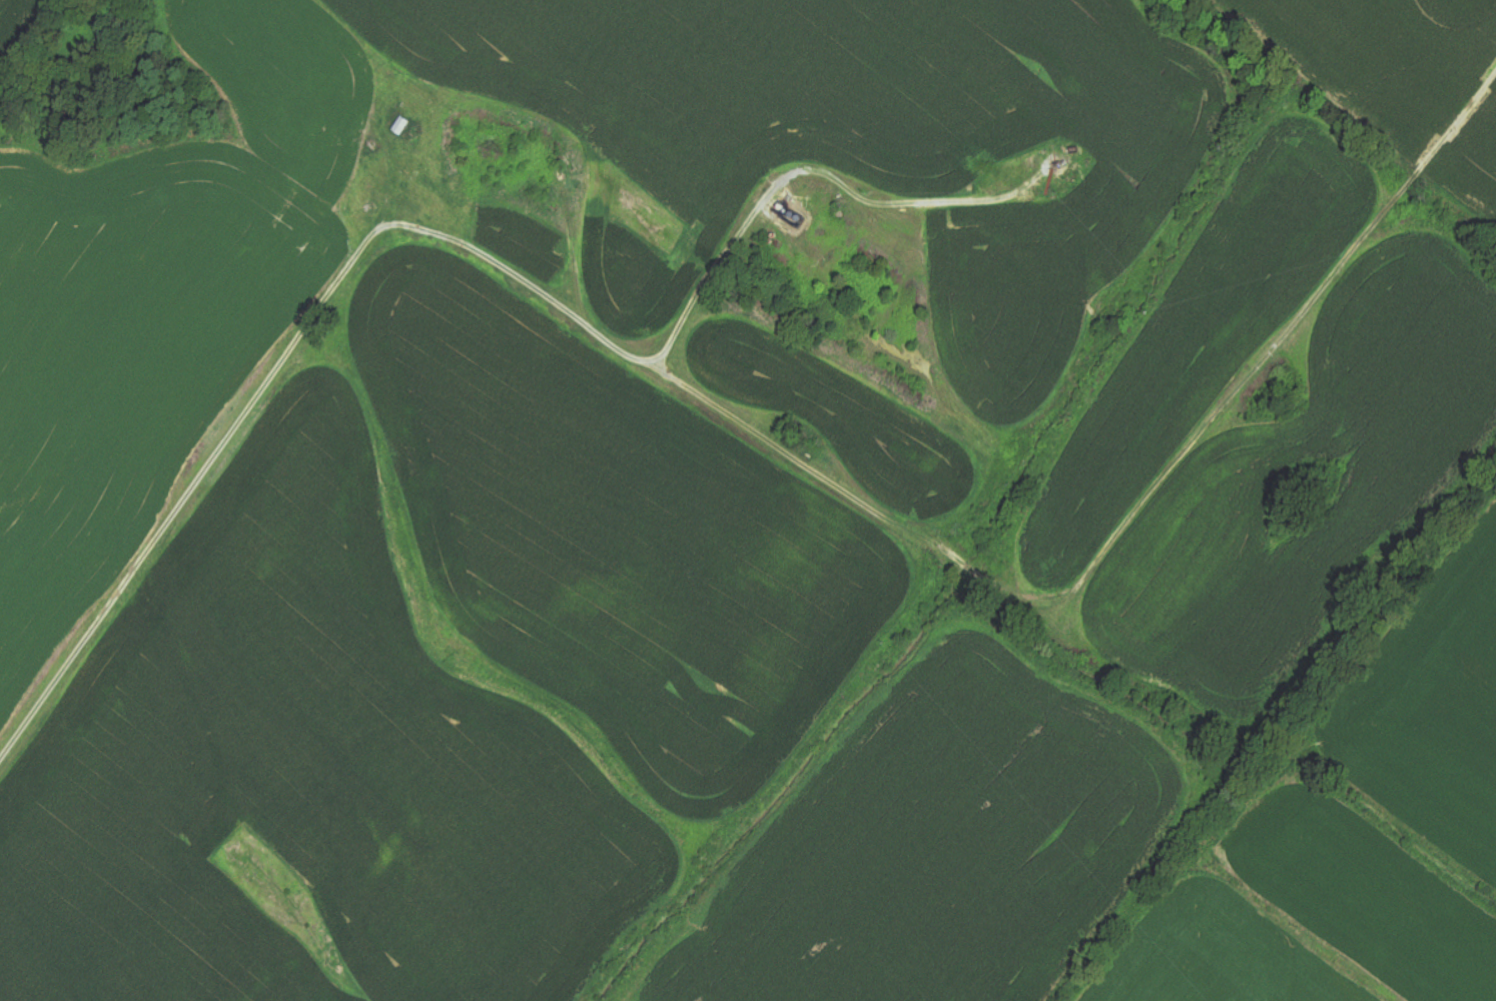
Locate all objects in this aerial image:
road: (758, 198)
road: (777, 457)

